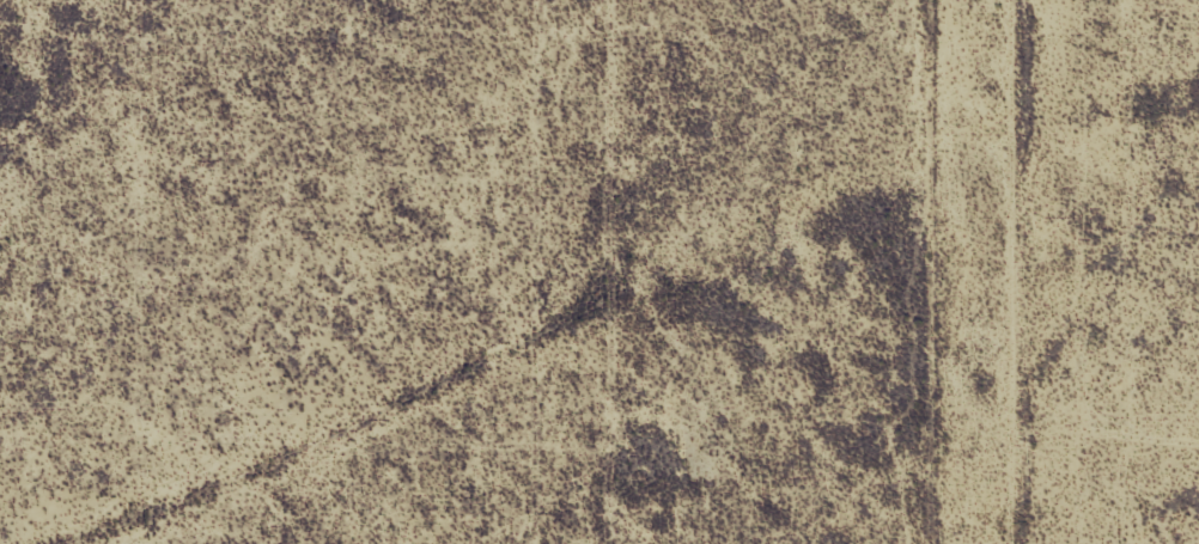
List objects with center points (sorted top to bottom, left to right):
road: (962, 271)

